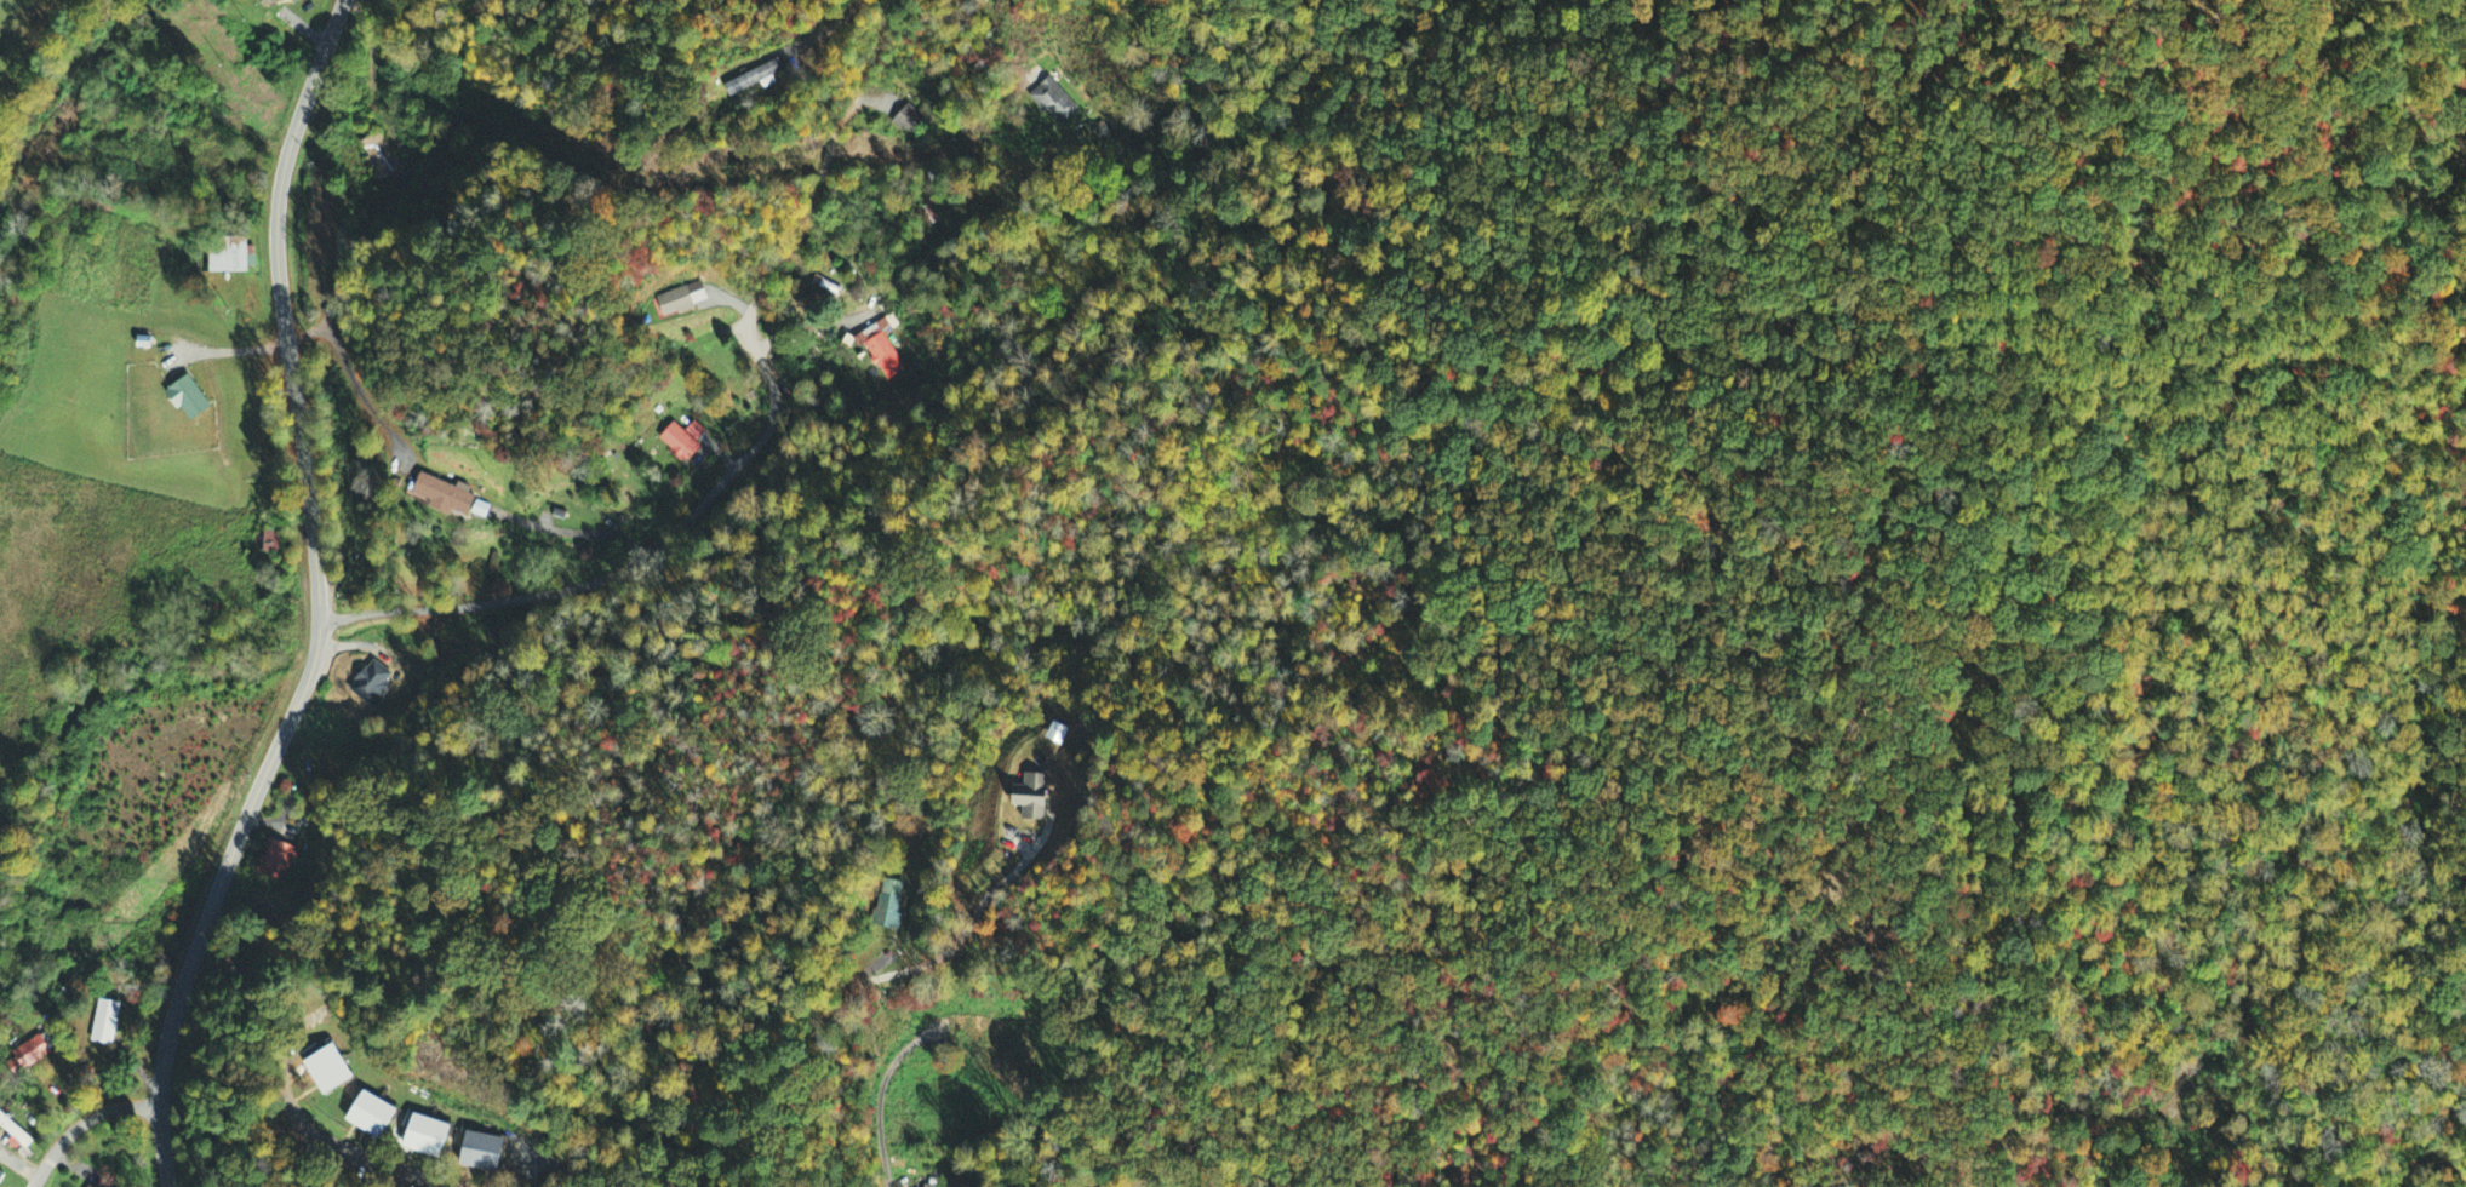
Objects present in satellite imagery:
building: (982, 0)
building: (280, 1)
road: (991, 51)
building: (756, 79)
building: (1054, 102)
building: (910, 121)
building: (381, 157)
building: (229, 257)
building: (682, 299)
building: (881, 350)
building: (190, 400)
building: (683, 442)
road: (713, 491)
building: (446, 497)
road: (317, 602)
building: (1034, 798)
building: (274, 861)
building: (888, 905)
road: (960, 935)
building: (105, 1023)
road: (865, 1038)
building: (32, 1055)
road: (897, 1061)
building: (330, 1072)
building: (373, 1117)
road: (81, 1122)
building: (16, 1134)
building: (429, 1137)
building: (482, 1153)
road: (356, 1156)
road: (19, 1165)
building: (0, 1172)
building: (87, 1186)

